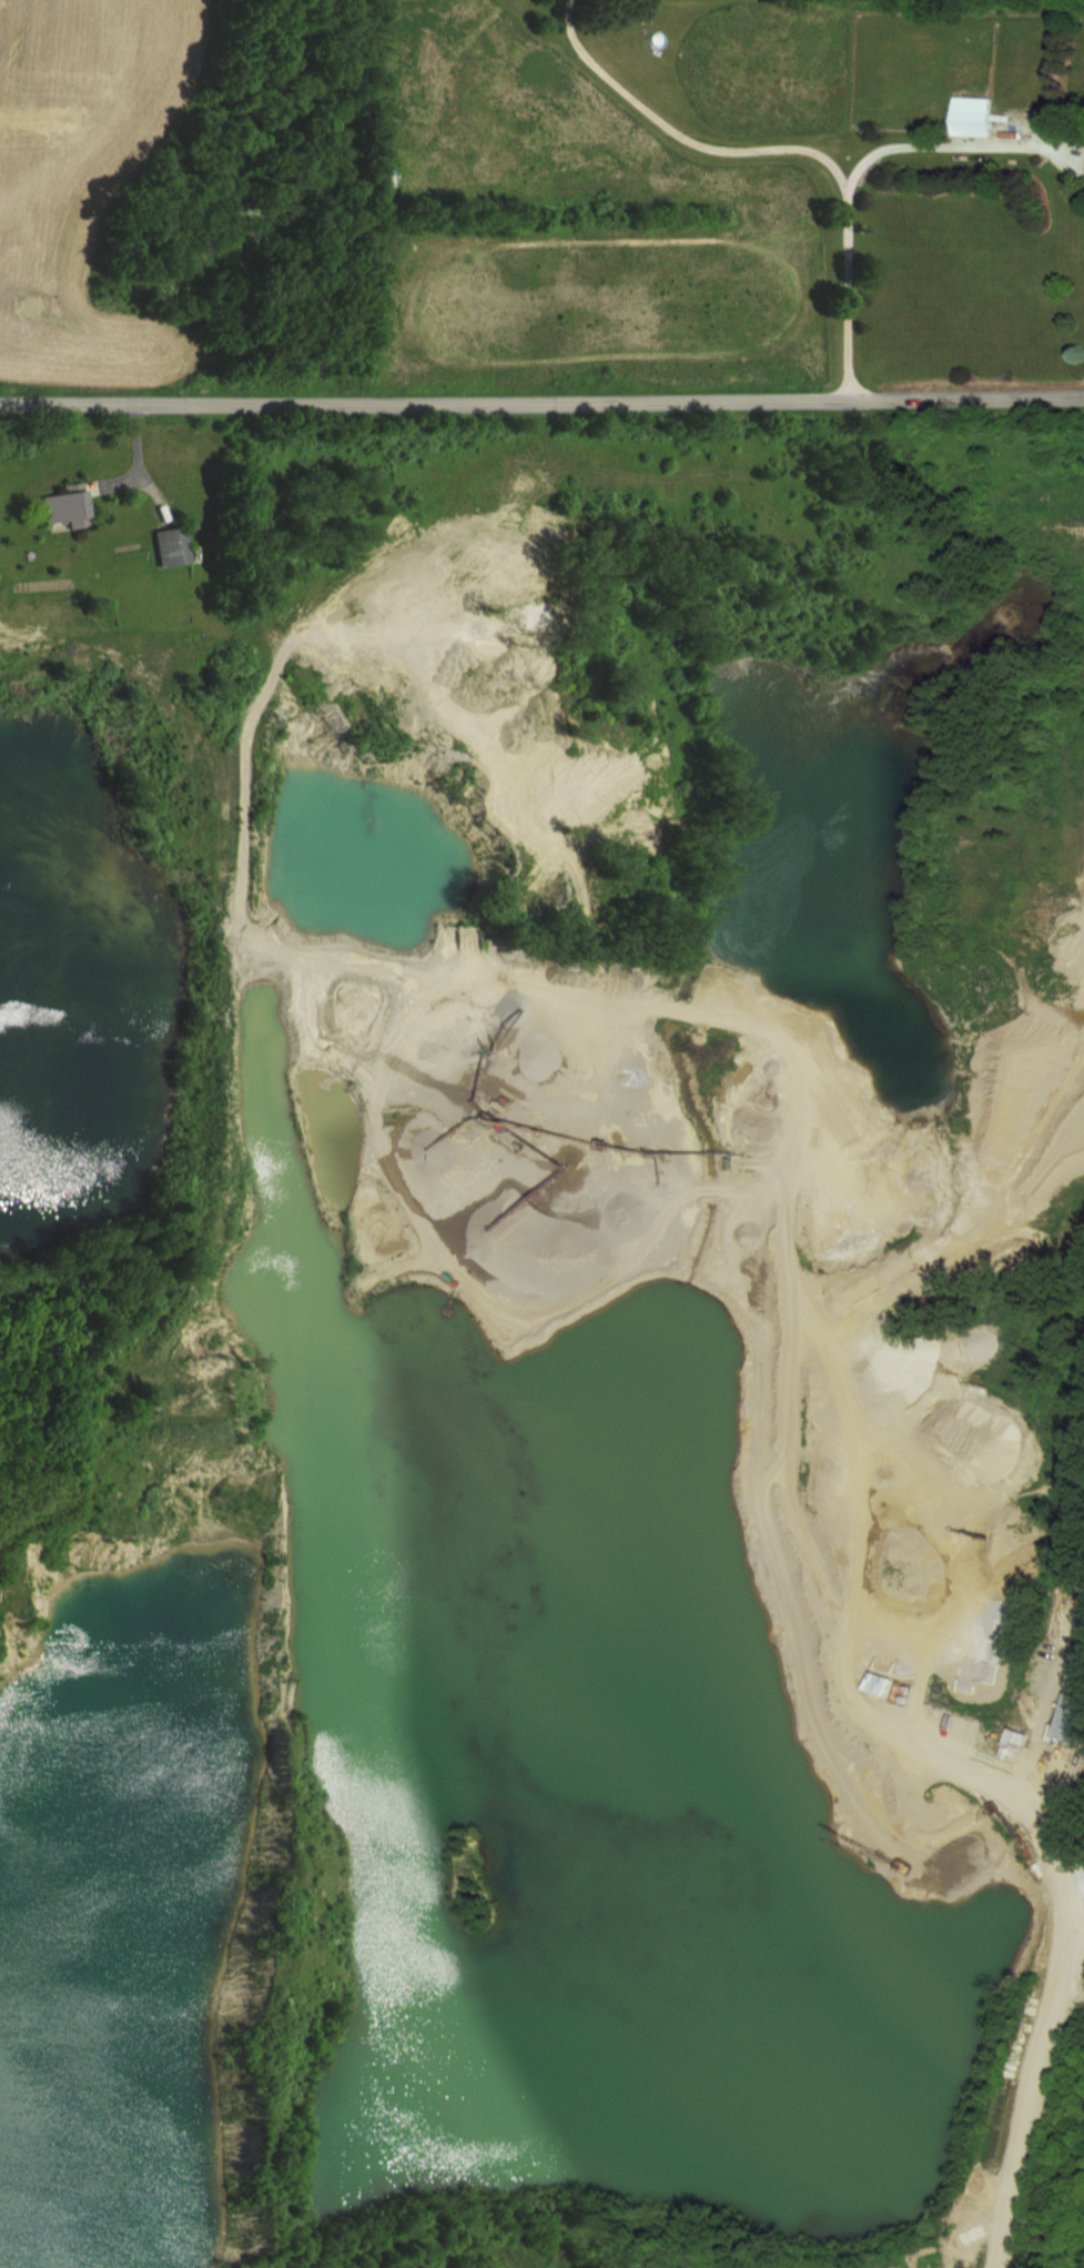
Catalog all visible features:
building: (974, 115)
road: (687, 135)
road: (862, 170)
road: (541, 403)
road: (142, 441)
building: (64, 505)
building: (170, 544)
quarry: (652, 1596)
building: (881, 1683)
building: (1072, 1717)
building: (1016, 1737)
road: (1050, 2045)

